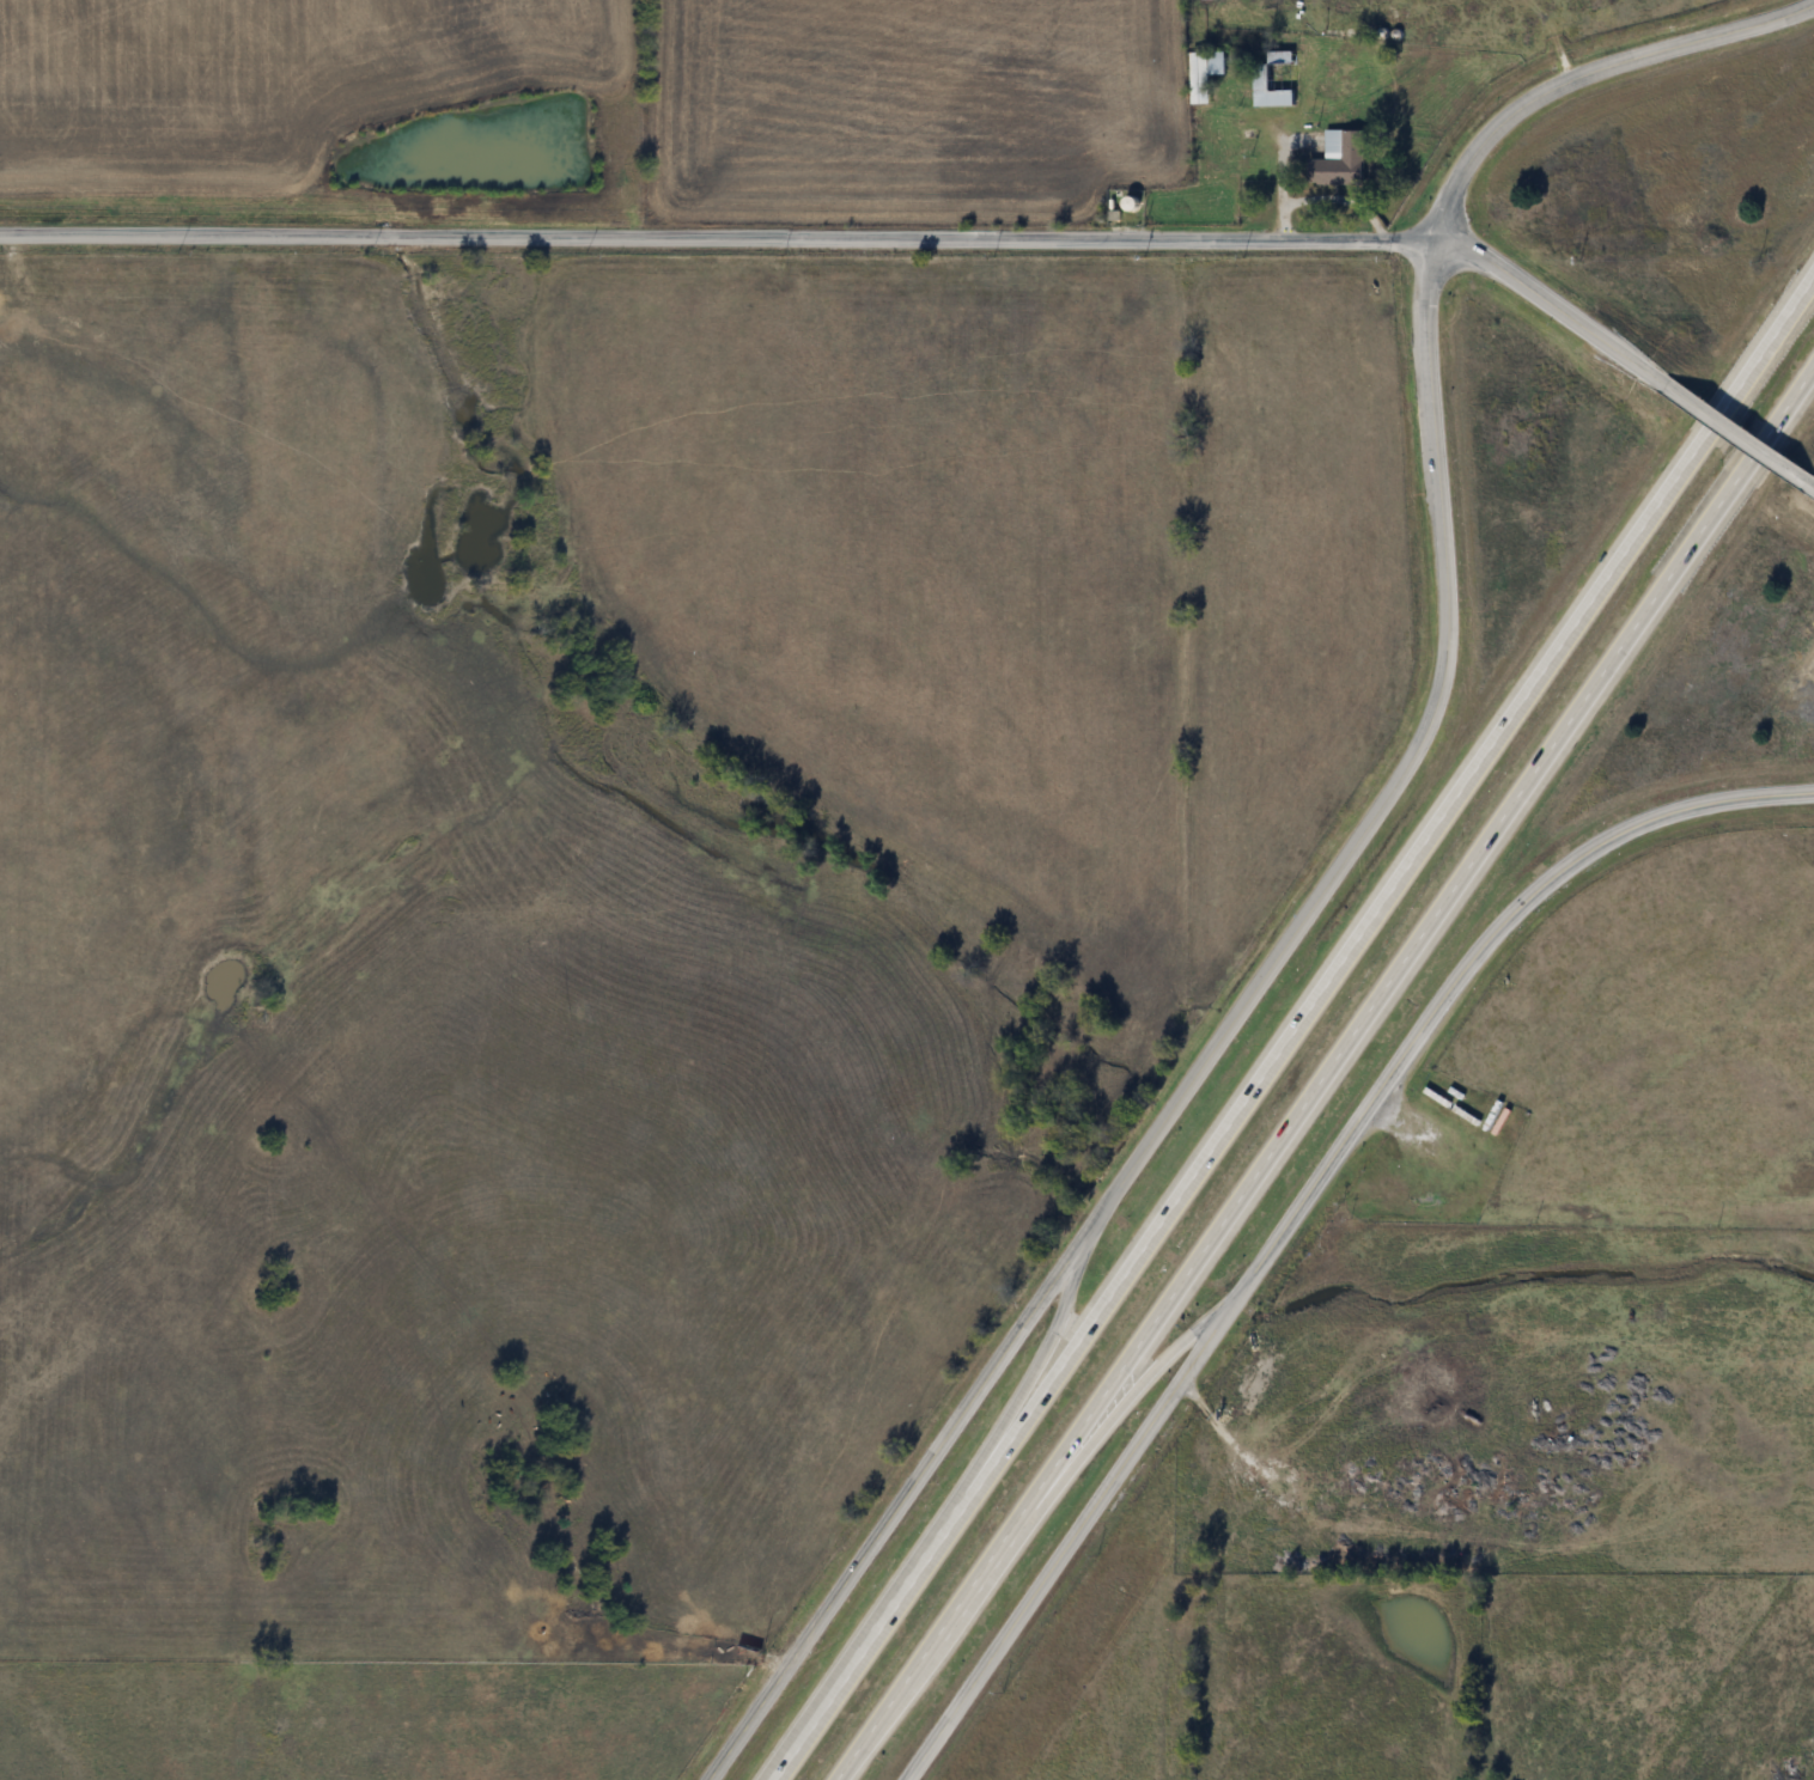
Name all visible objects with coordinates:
building: (1203, 74)
building: (1273, 86)
building: (1337, 160)
road: (720, 238)
road: (1554, 306)
road: (1770, 348)
road: (1792, 407)
road: (1715, 427)
road: (1735, 433)
road: (1759, 455)
road: (1810, 487)
road: (1343, 857)
building: (1437, 1097)
road: (1241, 1110)
building: (1467, 1116)
building: (1493, 1116)
road: (1292, 1124)
road: (1437, 1138)
road: (1303, 1206)
road: (1024, 1395)
road: (1064, 1483)

